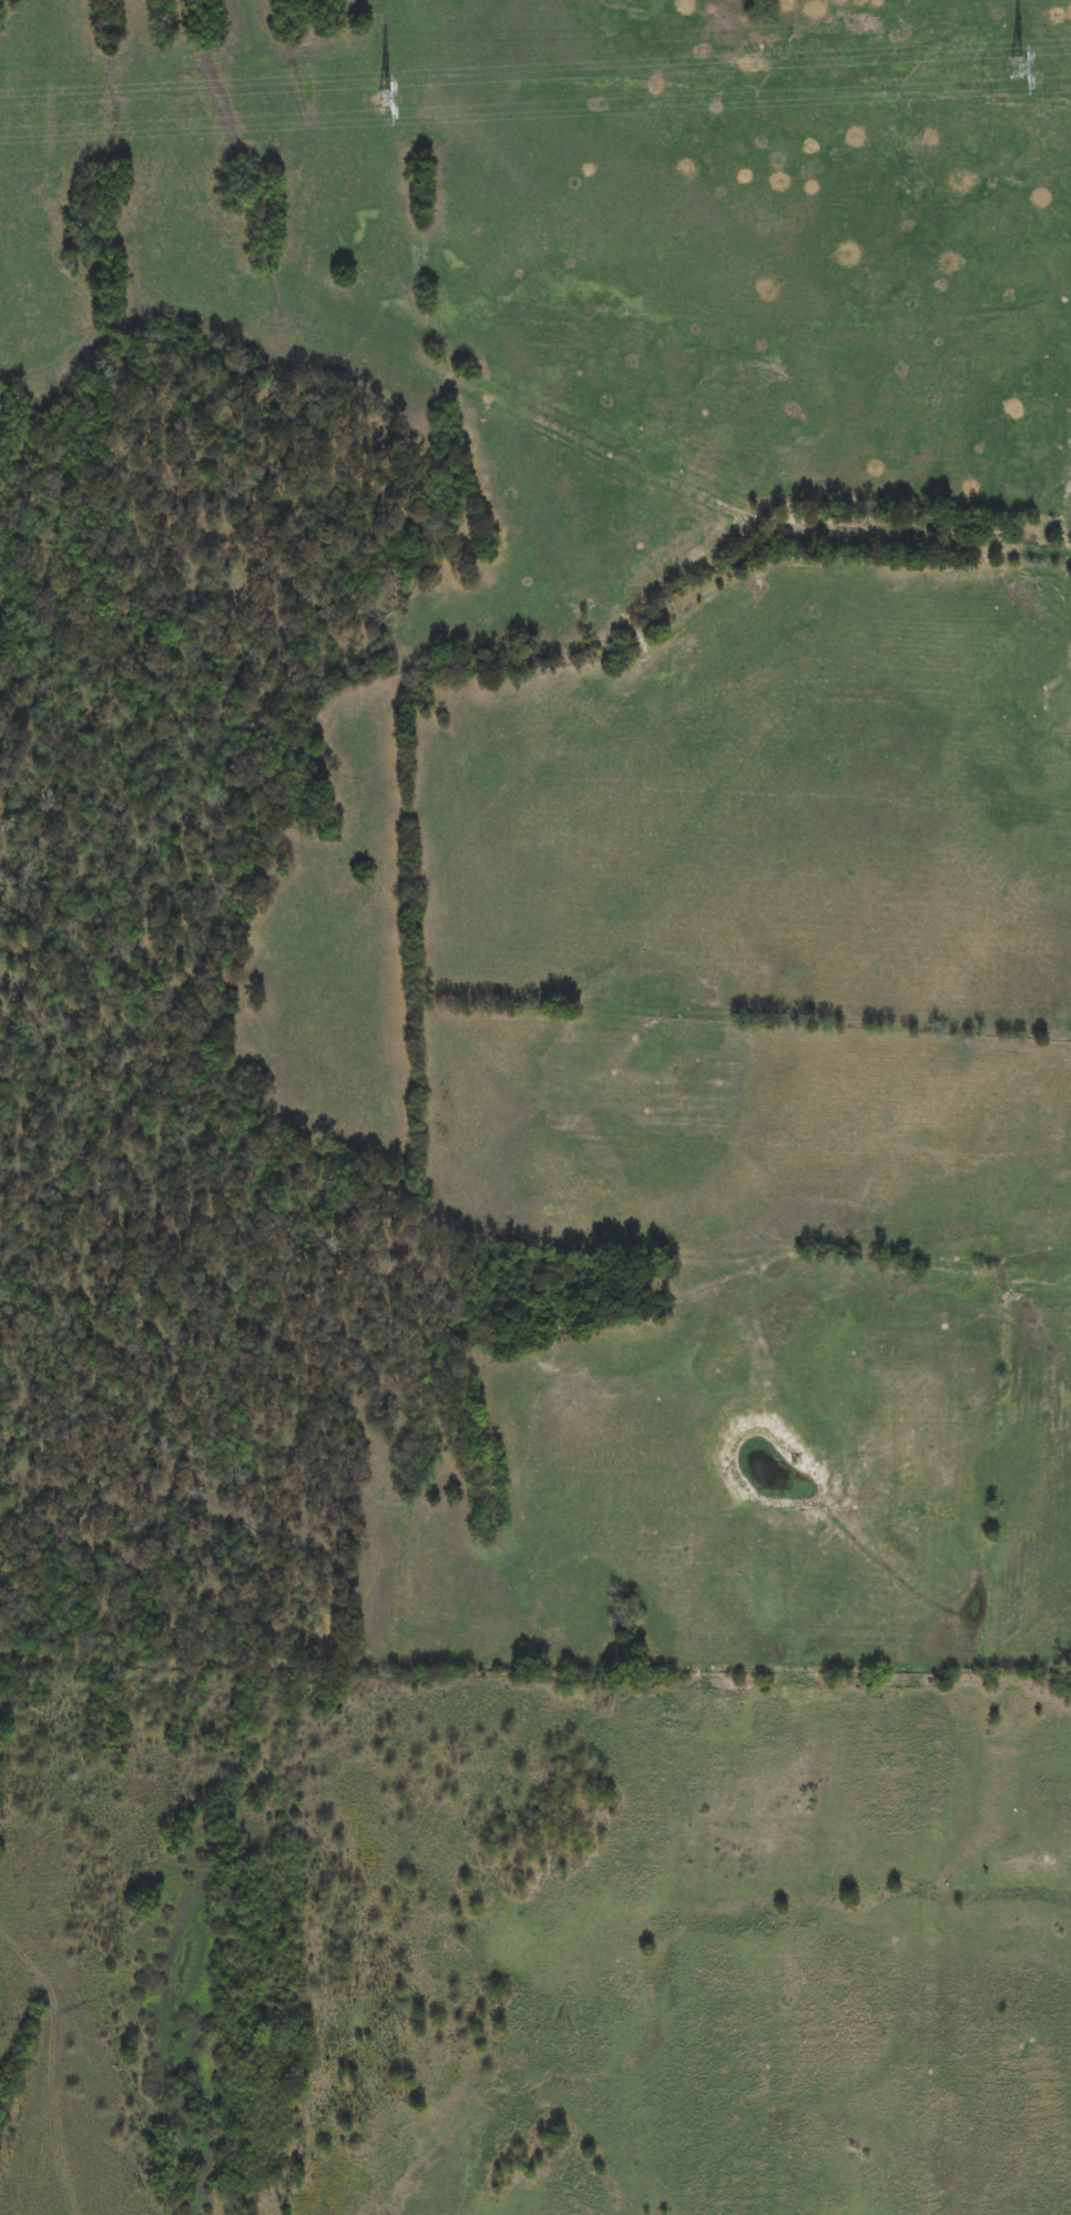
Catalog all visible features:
power tower: (1019, 69)
power tower: (387, 100)

